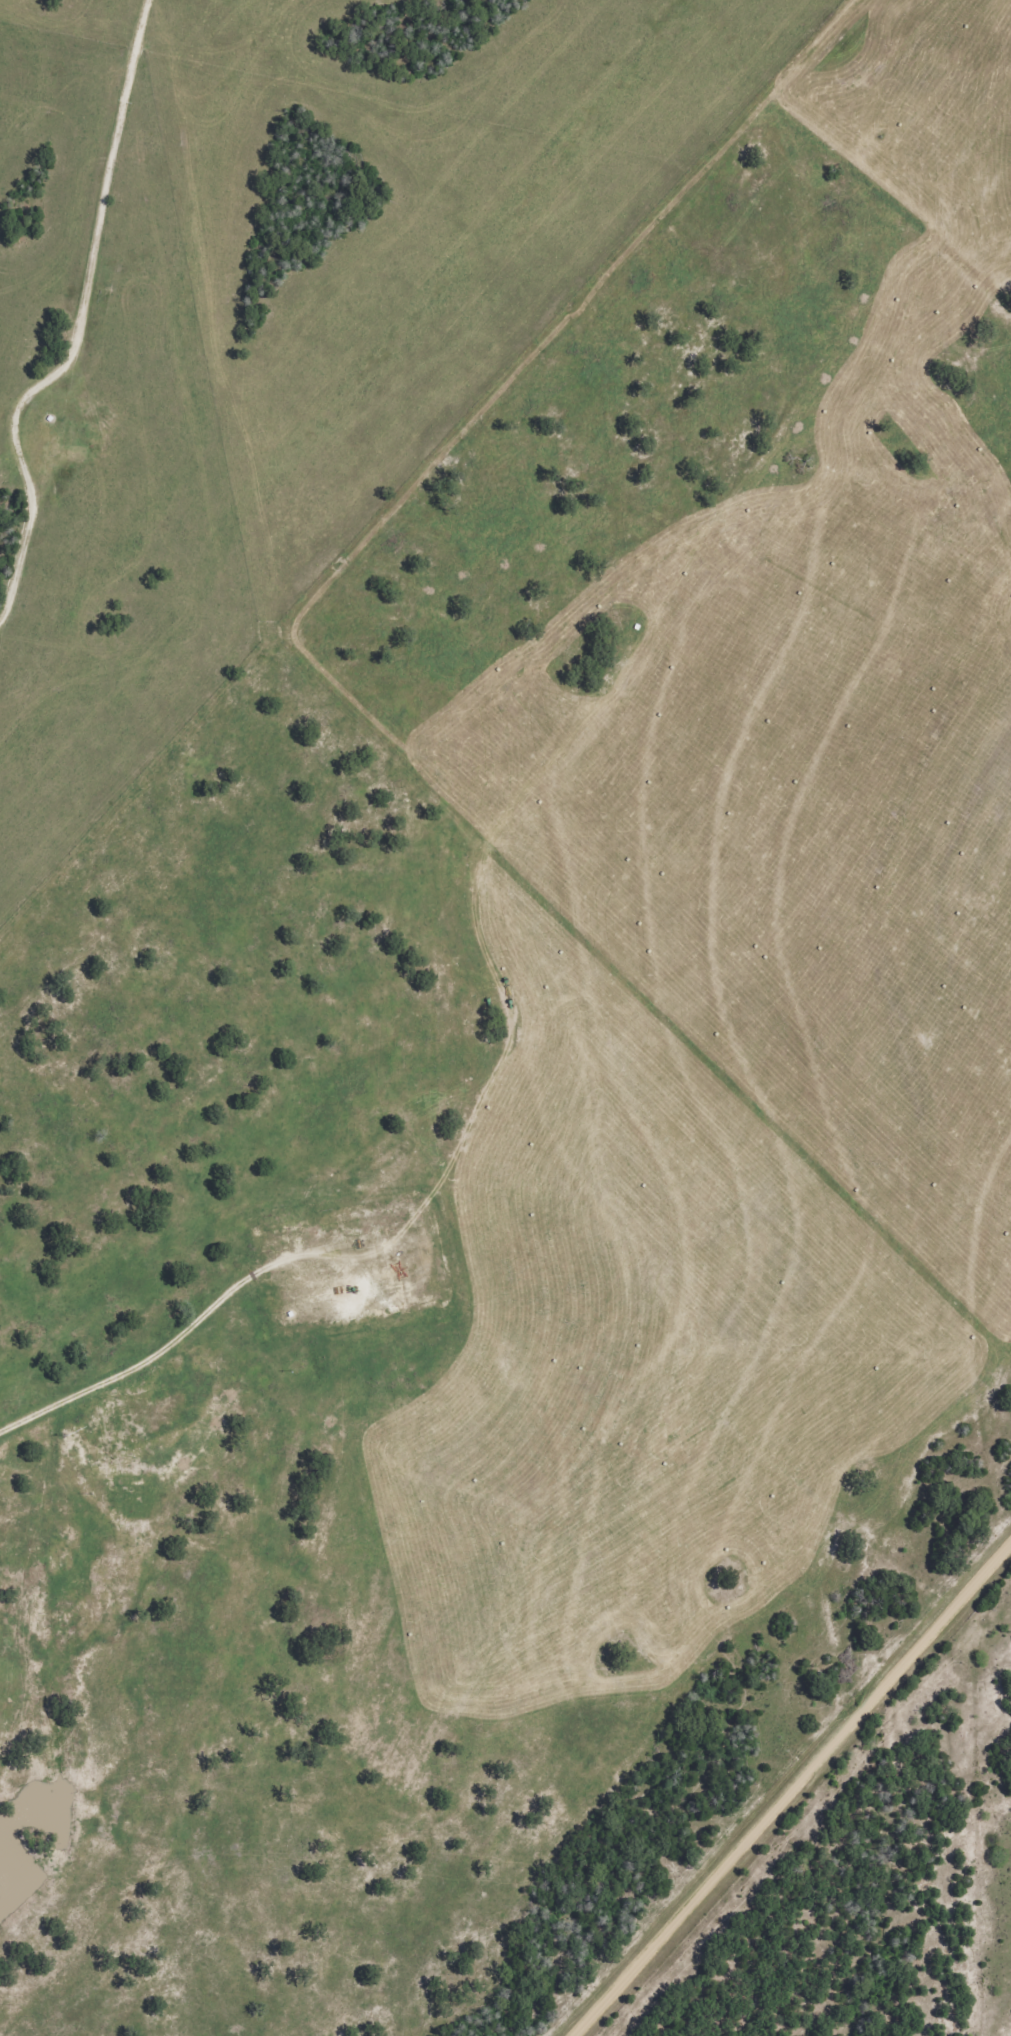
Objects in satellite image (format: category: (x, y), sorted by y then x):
road: (791, 1785)

